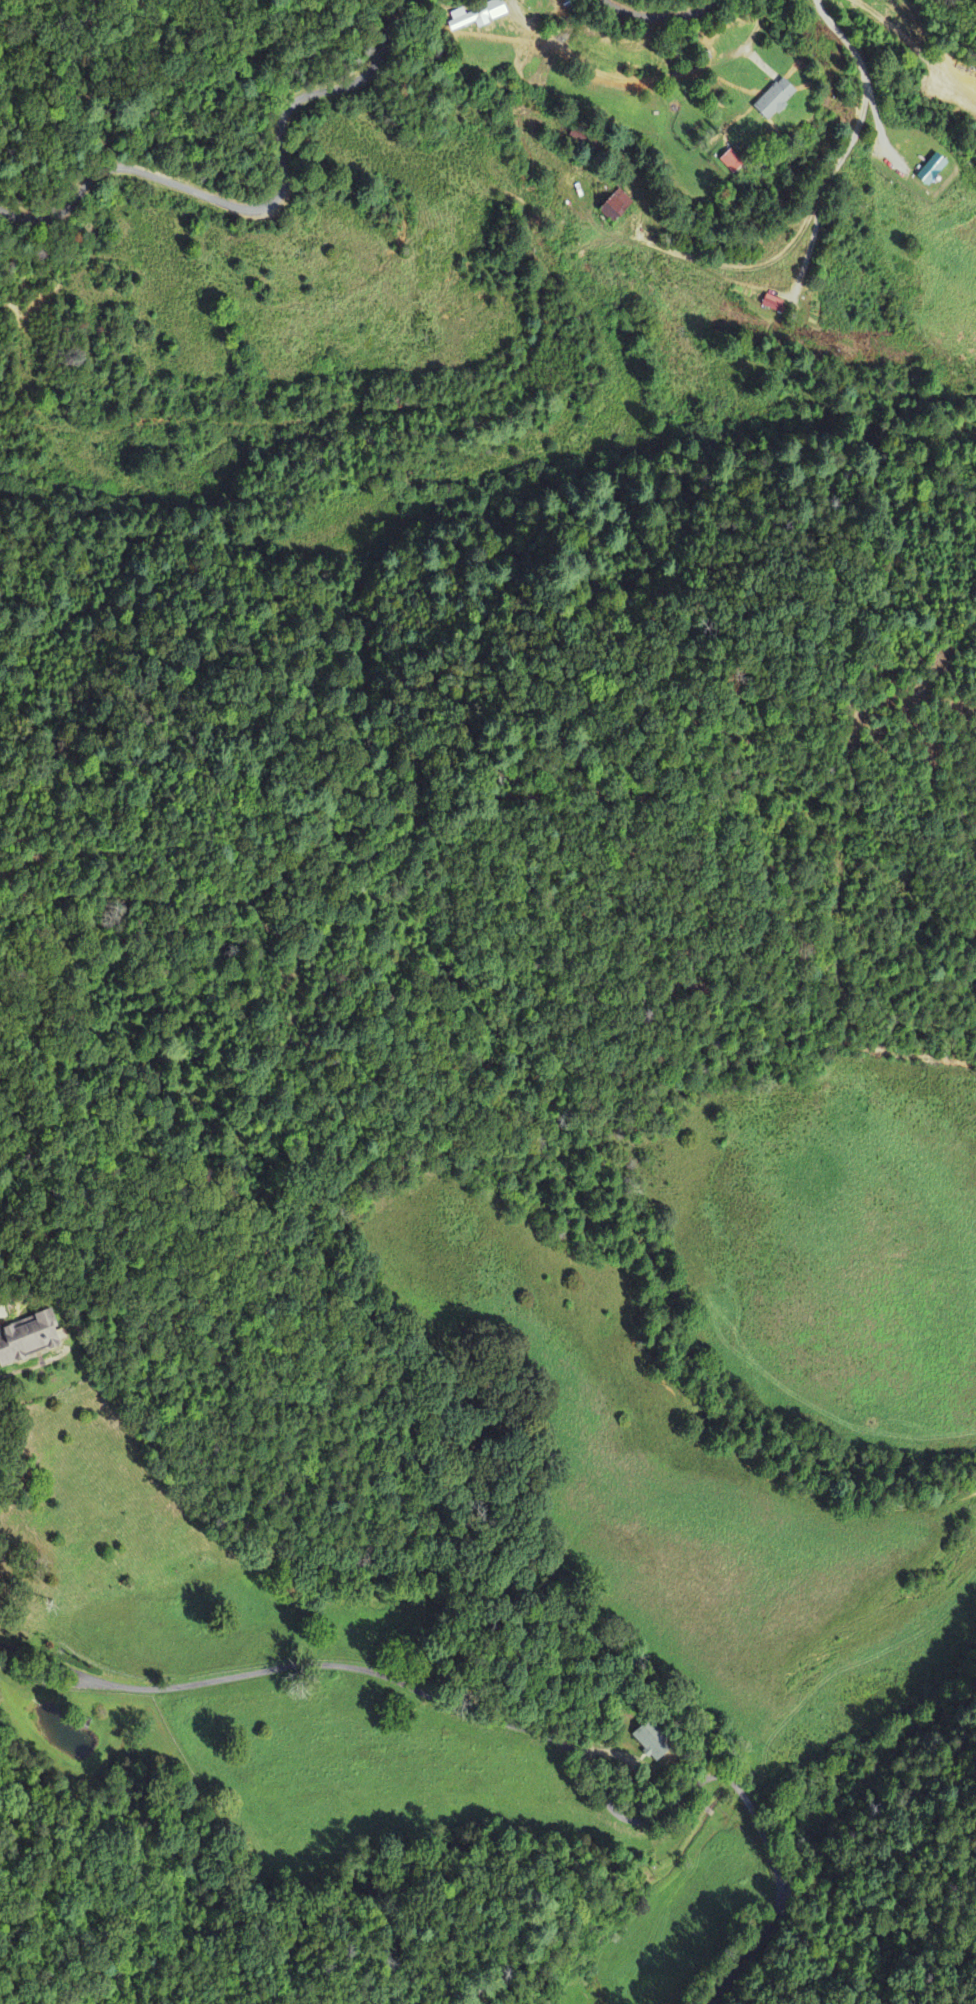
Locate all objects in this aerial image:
building: (477, 16)
road: (660, 18)
road: (757, 25)
road: (914, 44)
building: (773, 100)
road: (863, 108)
building: (730, 161)
building: (929, 169)
building: (614, 206)
road: (256, 207)
road: (728, 266)
building: (772, 304)
building: (29, 1338)
road: (506, 1722)
building: (651, 1743)
road: (744, 1793)

